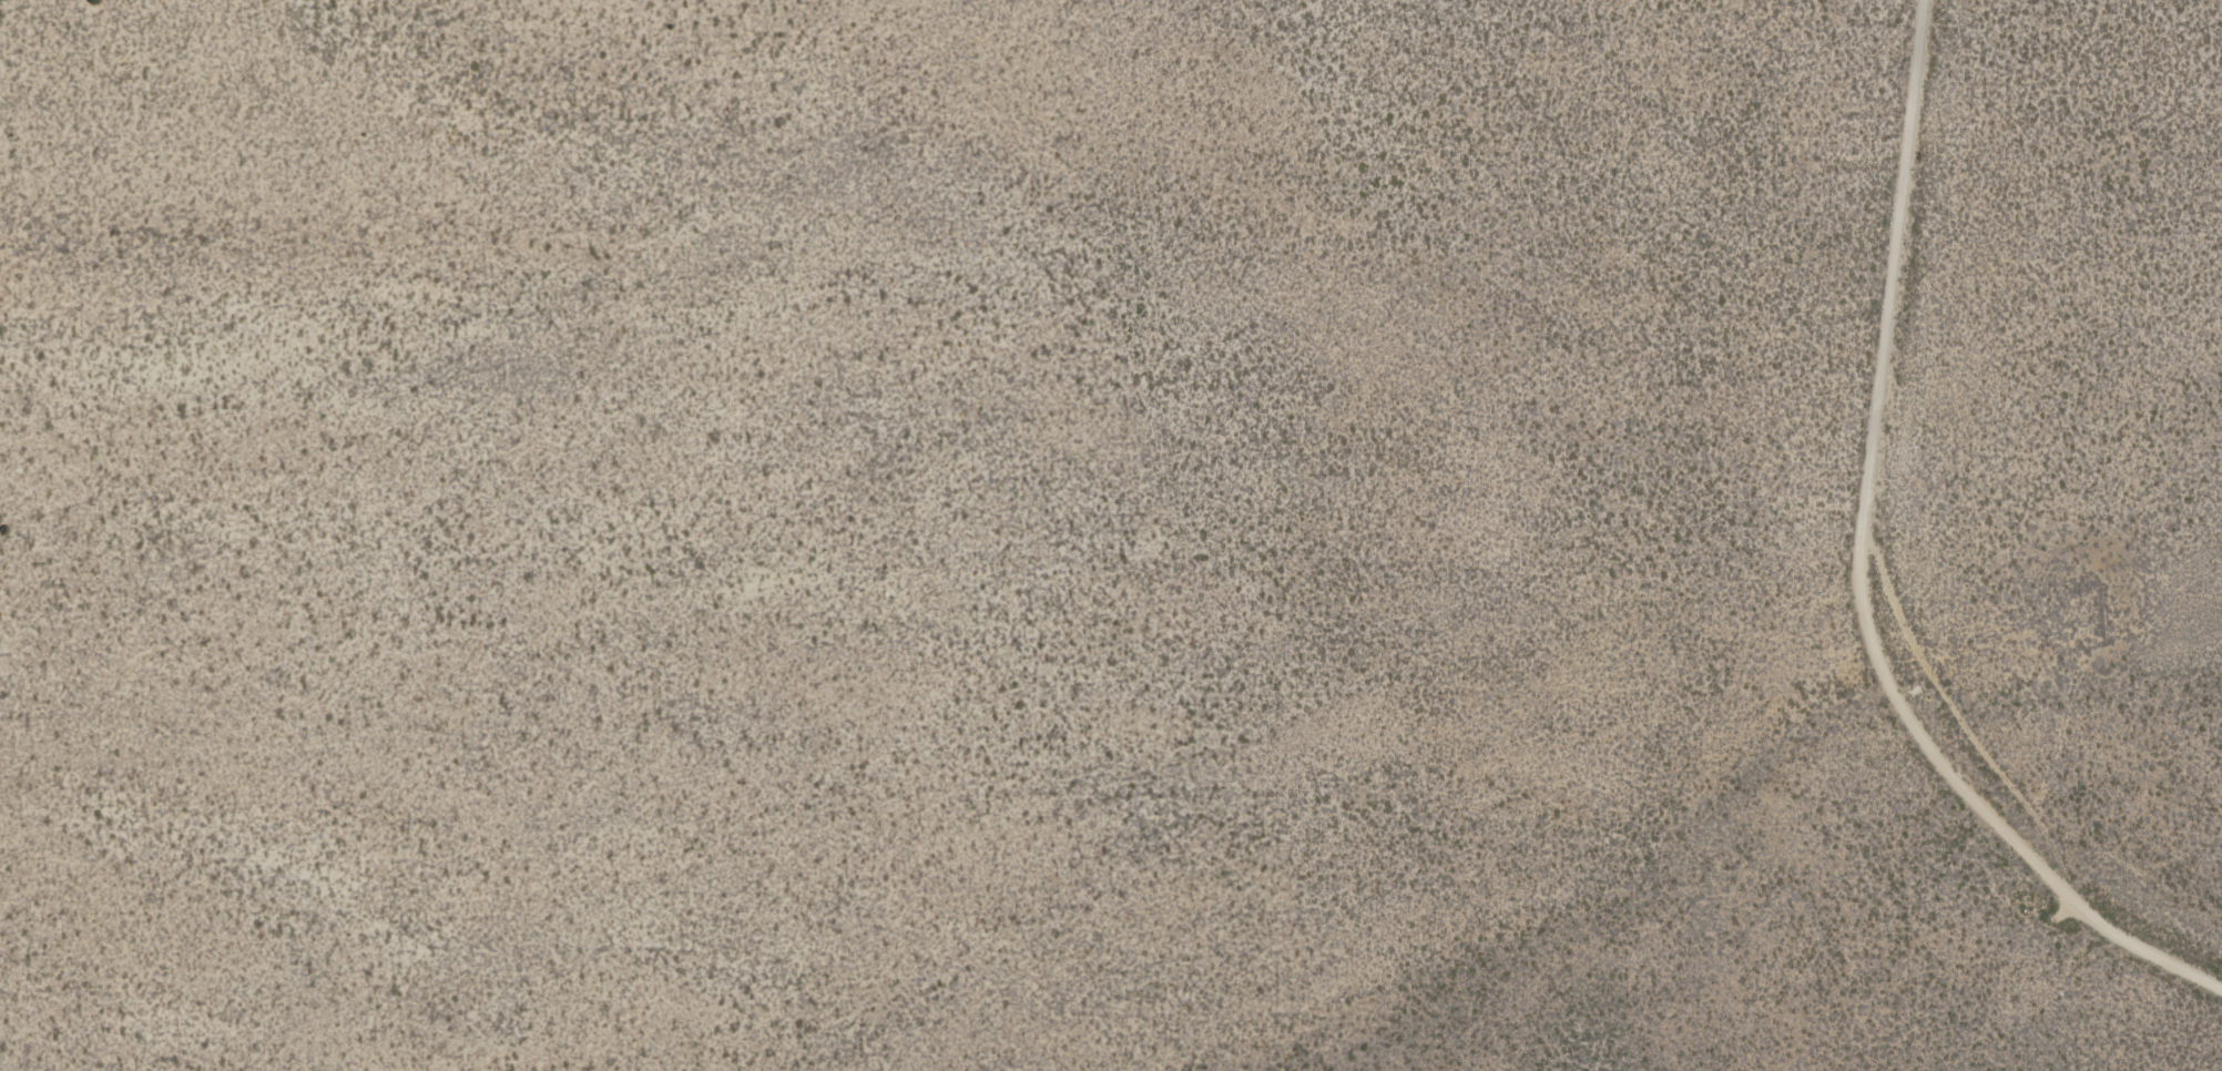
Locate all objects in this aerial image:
road: (1866, 573)

